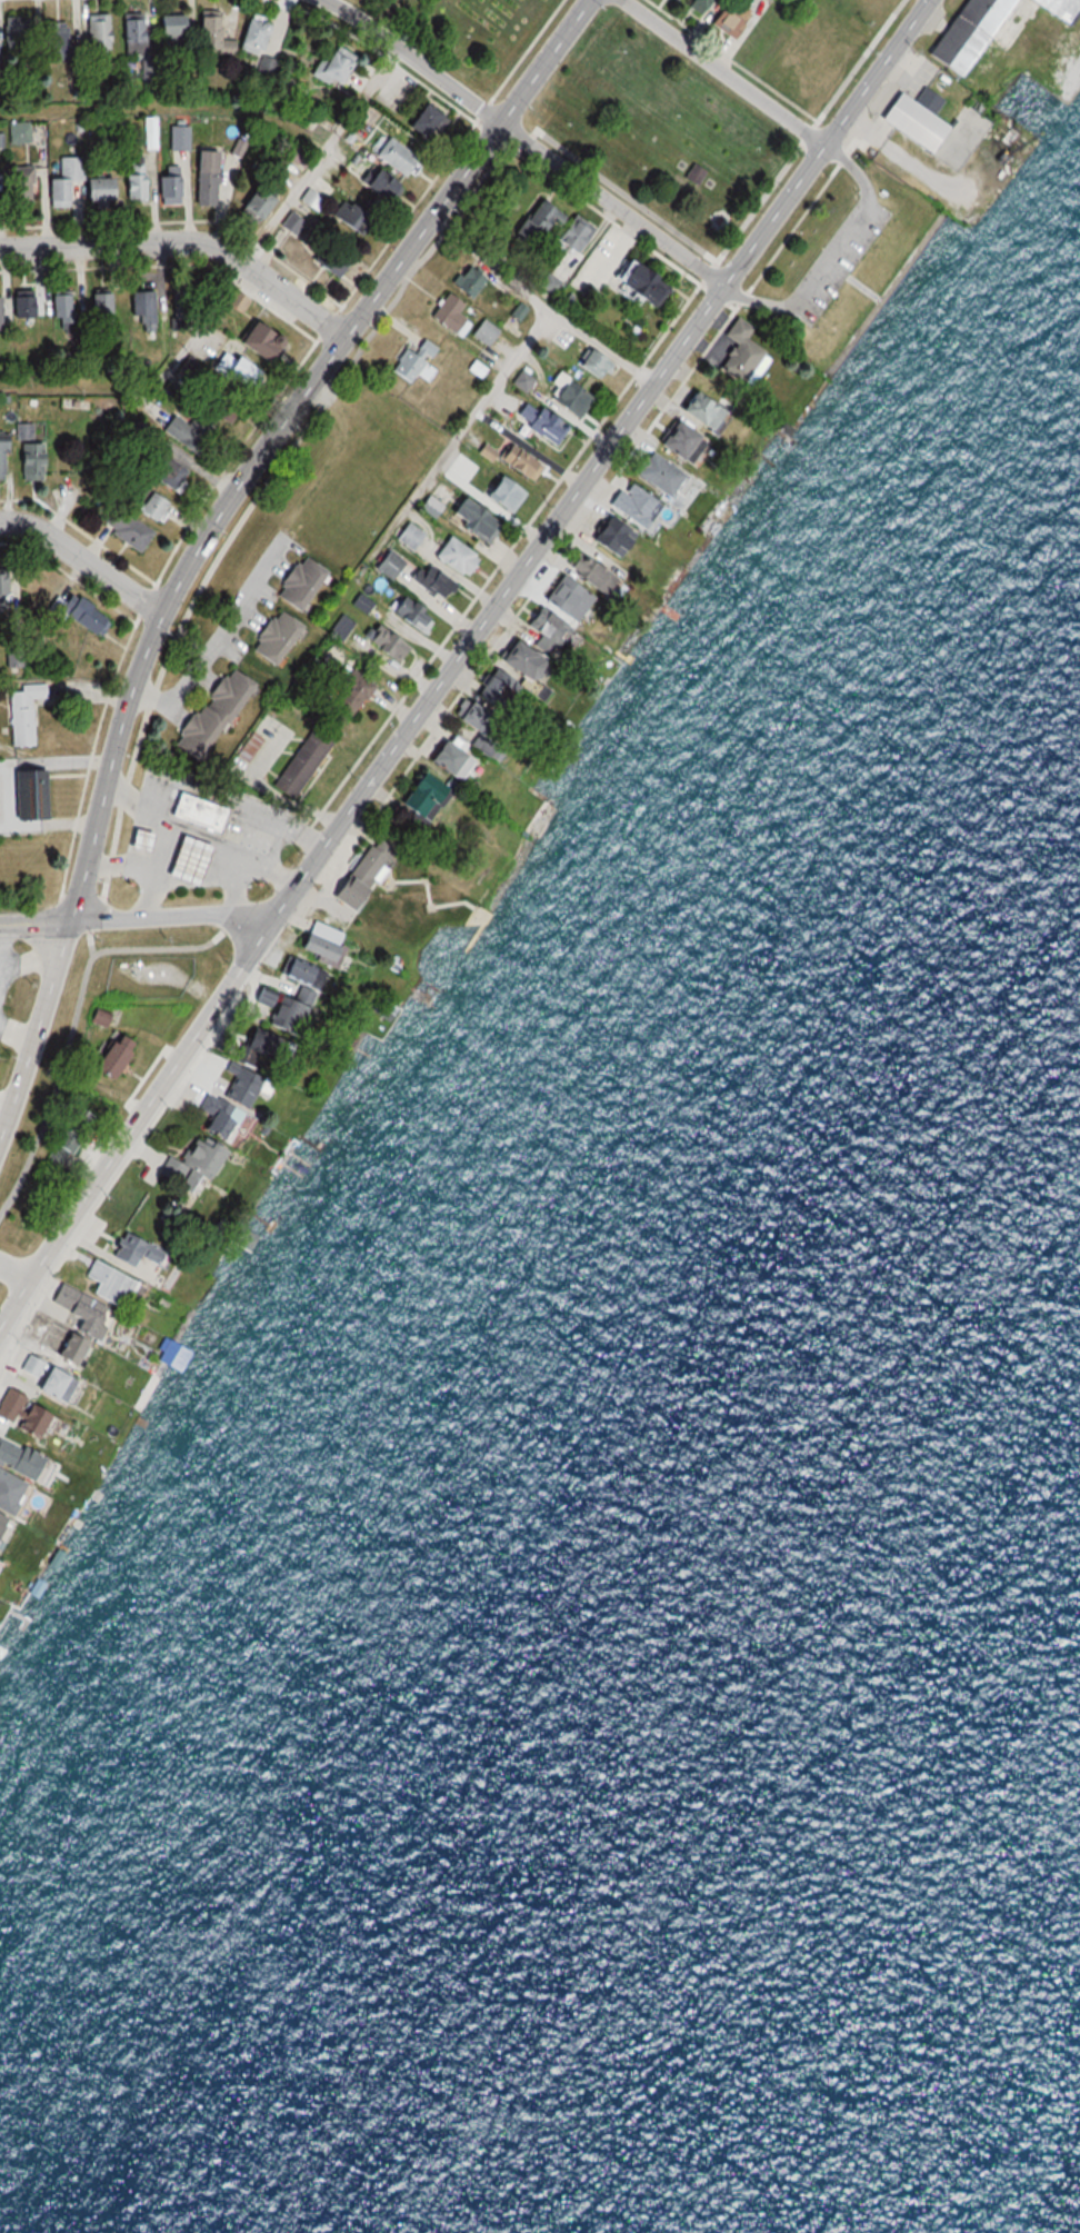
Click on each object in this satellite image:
building: (727, 18)
building: (168, 28)
building: (96, 31)
building: (130, 31)
building: (204, 31)
building: (14, 37)
building: (248, 37)
building: (53, 38)
building: (328, 64)
building: (262, 66)
road: (722, 72)
building: (411, 113)
building: (174, 138)
road: (524, 141)
road: (824, 142)
road: (319, 154)
building: (391, 156)
park: (684, 158)
building: (200, 178)
building: (131, 182)
building: (76, 183)
building: (372, 185)
building: (19, 186)
building: (167, 188)
building: (250, 203)
building: (348, 219)
building: (527, 223)
building: (569, 235)
road: (186, 245)
building: (317, 249)
road: (827, 251)
road: (420, 259)
parking lot: (838, 265)
road: (849, 280)
building: (633, 282)
building: (463, 283)
road: (881, 293)
building: (178, 302)
building: (134, 303)
building: (19, 305)
building: (61, 313)
building: (447, 317)
building: (101, 319)
building: (481, 333)
building: (246, 340)
building: (590, 363)
building: (566, 399)
building: (214, 407)
building: (541, 425)
building: (183, 432)
road: (279, 432)
building: (1, 457)
building: (27, 461)
building: (514, 463)
building: (650, 475)
building: (494, 492)
building: (627, 504)
building: (151, 507)
building: (471, 520)
building: (122, 528)
building: (452, 557)
road: (84, 560)
building: (410, 577)
building: (296, 584)
building: (7, 587)
road: (500, 601)
building: (80, 614)
building: (408, 616)
building: (270, 637)
building: (381, 642)
building: (512, 661)
building: (349, 691)
building: (29, 712)
building: (209, 714)
building: (299, 762)
building: (38, 795)
building: (196, 811)
building: (138, 840)
building: (186, 860)
road: (98, 915)
road: (173, 917)
road: (36, 920)
road: (90, 943)
road: (170, 947)
road: (38, 1029)
building: (110, 1055)
road: (54, 1087)
road: (152, 1098)
road: (14, 1273)
road: (14, 1305)
river: (756, 1760)

